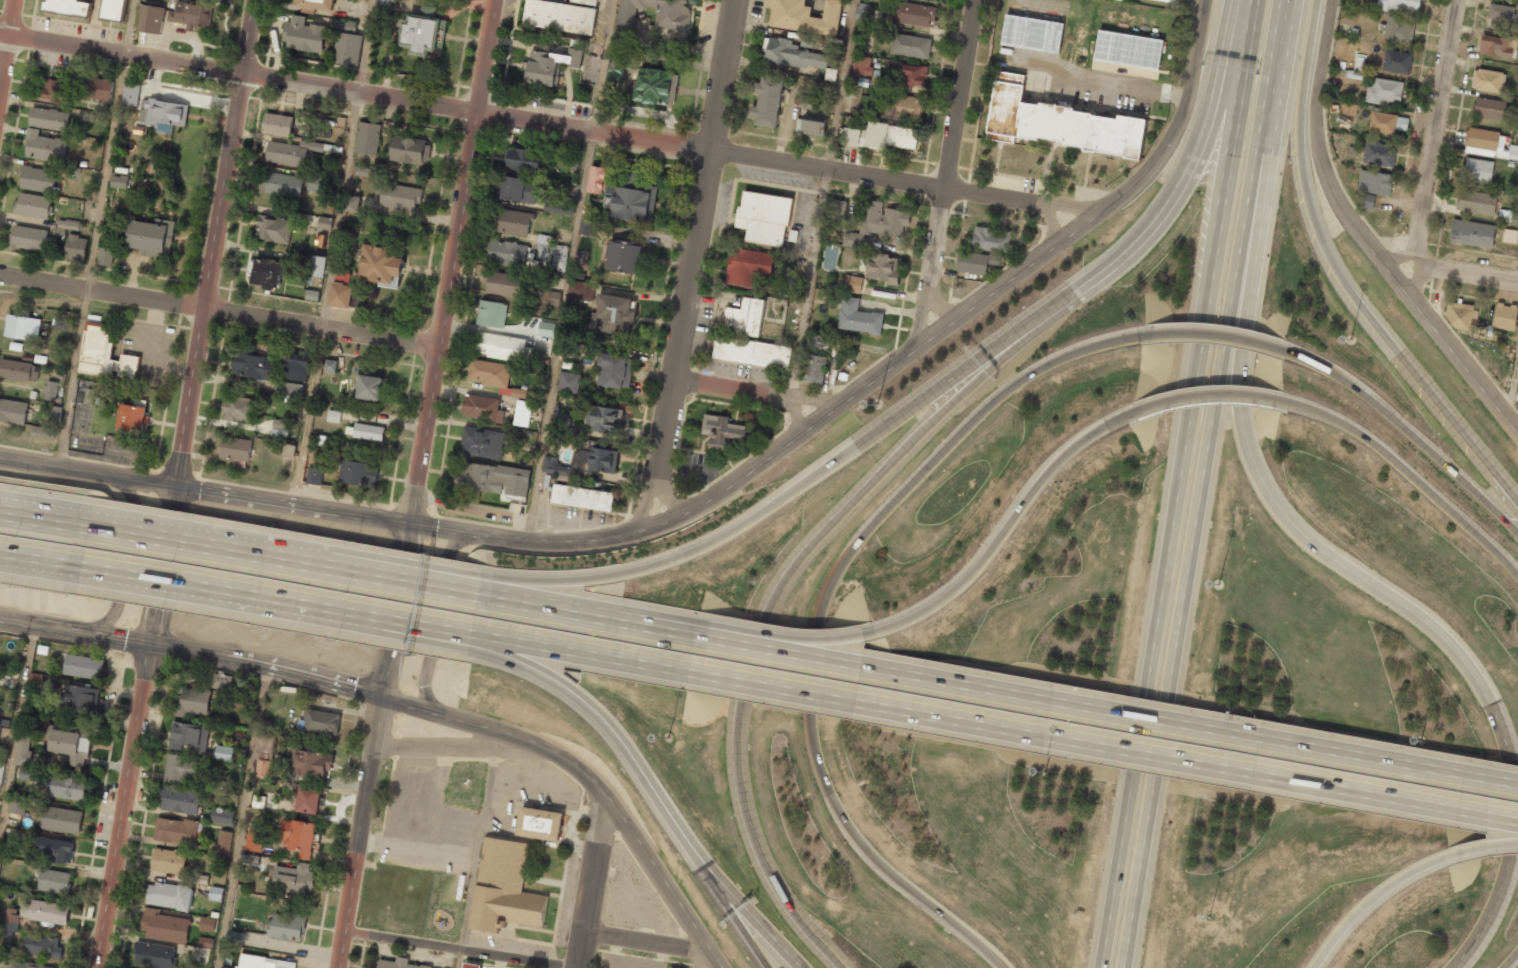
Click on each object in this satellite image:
building: (1120, 0)
building: (387, 1)
building: (1170, 1)
building: (586, 2)
building: (315, 4)
building: (1400, 5)
building: (70, 7)
building: (114, 10)
building: (862, 12)
building: (914, 14)
building: (191, 15)
building: (560, 16)
building: (805, 16)
building: (1500, 16)
building: (151, 19)
building: (672, 23)
building: (1398, 29)
building: (1032, 33)
building: (304, 35)
building: (424, 35)
building: (807, 41)
building: (347, 43)
road: (370, 46)
building: (910, 46)
building: (1495, 46)
building: (1128, 50)
building: (792, 54)
road: (9, 56)
building: (1397, 61)
building: (550, 64)
building: (616, 65)
building: (862, 65)
road: (604, 66)
building: (830, 74)
building: (1352, 74)
building: (910, 75)
building: (1486, 80)
road: (842, 85)
building: (655, 86)
building: (97, 88)
building: (57, 91)
road: (354, 91)
building: (1384, 91)
building: (130, 94)
building: (767, 102)
road: (1234, 105)
building: (904, 106)
building: (1348, 109)
building: (1488, 109)
building: (163, 114)
building: (49, 119)
building: (1059, 121)
building: (1387, 123)
building: (278, 125)
building: (811, 125)
building: (320, 131)
building: (876, 134)
building: (853, 135)
building: (907, 138)
building: (368, 139)
building: (1486, 143)
building: (44, 146)
building: (410, 149)
road: (1439, 151)
building: (1512, 152)
building: (286, 153)
road: (1257, 153)
road: (1194, 154)
building: (1379, 154)
building: (523, 160)
building: (1477, 170)
building: (363, 171)
road: (946, 175)
building: (38, 179)
building: (596, 180)
building: (119, 181)
road: (901, 182)
building: (1375, 182)
building: (282, 183)
building: (317, 183)
building: (516, 189)
building: (400, 196)
building: (631, 196)
building: (559, 198)
building: (1366, 201)
building: (1476, 202)
building: (356, 203)
building: (33, 205)
building: (836, 211)
building: (763, 217)
building: (513, 222)
building: (325, 223)
building: (878, 223)
building: (65, 226)
building: (587, 227)
building: (275, 229)
road: (97, 233)
building: (1472, 233)
building: (1509, 236)
building: (152, 237)
building: (28, 238)
road: (1358, 238)
building: (991, 239)
building: (76, 248)
building: (506, 253)
building: (551, 253)
building: (625, 255)
building: (105, 256)
building: (975, 262)
building: (383, 263)
road: (690, 264)
building: (318, 266)
building: (748, 266)
building: (882, 268)
road: (1471, 271)
building: (267, 273)
road: (1341, 275)
building: (501, 284)
road: (810, 284)
building: (852, 284)
building: (581, 289)
building: (341, 294)
building: (312, 295)
road: (327, 298)
building: (553, 298)
road: (220, 308)
building: (491, 313)
building: (1460, 314)
building: (614, 315)
building: (1504, 316)
building: (744, 317)
building: (858, 317)
building: (61, 324)
building: (22, 327)
building: (545, 329)
road: (1216, 334)
road: (559, 337)
street lamp: (1350, 339)
building: (497, 345)
building: (571, 349)
building: (751, 352)
building: (104, 354)
building: (295, 365)
building: (567, 365)
building: (330, 366)
building: (253, 367)
building: (814, 369)
building: (19, 370)
building: (614, 370)
building: (488, 373)
road: (881, 374)
road: (1510, 377)
building: (569, 381)
building: (369, 387)
building: (50, 390)
road: (756, 392)
road: (1208, 395)
building: (90, 396)
street lamp: (876, 402)
building: (240, 408)
building: (483, 408)
building: (13, 411)
building: (522, 413)
building: (334, 416)
building: (133, 417)
building: (562, 419)
building: (605, 419)
building: (279, 424)
building: (723, 426)
building: (366, 431)
building: (42, 433)
road: (1407, 435)
building: (559, 437)
building: (321, 440)
building: (481, 442)
building: (235, 448)
building: (288, 449)
building: (322, 453)
building: (603, 460)
building: (554, 467)
building: (358, 473)
road: (1409, 473)
road: (811, 474)
building: (314, 475)
building: (488, 476)
road: (179, 483)
road: (419, 484)
road: (206, 489)
building: (584, 501)
road: (50, 521)
road: (1003, 530)
road: (245, 555)
road: (47, 556)
road: (126, 566)
road: (785, 578)
road: (442, 583)
street lamp: (1218, 583)
road: (1165, 589)
road: (440, 590)
road: (239, 591)
road: (819, 607)
road: (436, 610)
road: (1421, 618)
road: (594, 620)
road: (432, 628)
road: (430, 635)
road: (1177, 637)
road: (718, 644)
road: (801, 645)
road: (192, 650)
road: (585, 656)
building: (83, 667)
building: (222, 681)
building: (80, 699)
building: (192, 701)
road: (1129, 716)
building: (320, 722)
road: (17, 734)
building: (188, 736)
street lamp: (665, 736)
street lamp: (1418, 739)
building: (70, 743)
building: (266, 744)
road: (461, 747)
building: (23, 749)
road: (1104, 749)
building: (223, 753)
building: (312, 763)
building: (183, 768)
building: (263, 768)
building: (1, 770)
street lamp: (1041, 773)
building: (26, 774)
road: (592, 778)
building: (44, 781)
building: (69, 787)
road: (652, 792)
building: (180, 799)
building: (309, 800)
building: (17, 806)
building: (222, 816)
road: (243, 817)
building: (62, 820)
building: (541, 823)
building: (176, 830)
building: (298, 837)
building: (254, 840)
building: (224, 843)
road: (1483, 848)
building: (54, 849)
road: (477, 858)
building: (252, 859)
building: (169, 861)
building: (293, 879)
building: (54, 881)
road: (591, 881)
building: (504, 888)
road: (720, 894)
building: (169, 896)
road: (1372, 900)
building: (45, 911)
street lamp: (1207, 915)
building: (11, 922)
building: (207, 924)
building: (166, 926)
building: (287, 926)
building: (235, 937)
road: (645, 941)
building: (205, 942)
building: (42, 946)
road: (461, 949)
building: (155, 955)
road: (699, 959)
road: (1511, 959)
building: (264, 962)
building: (399, 964)
building: (27, 965)
building: (471, 965)
building: (670, 967)

